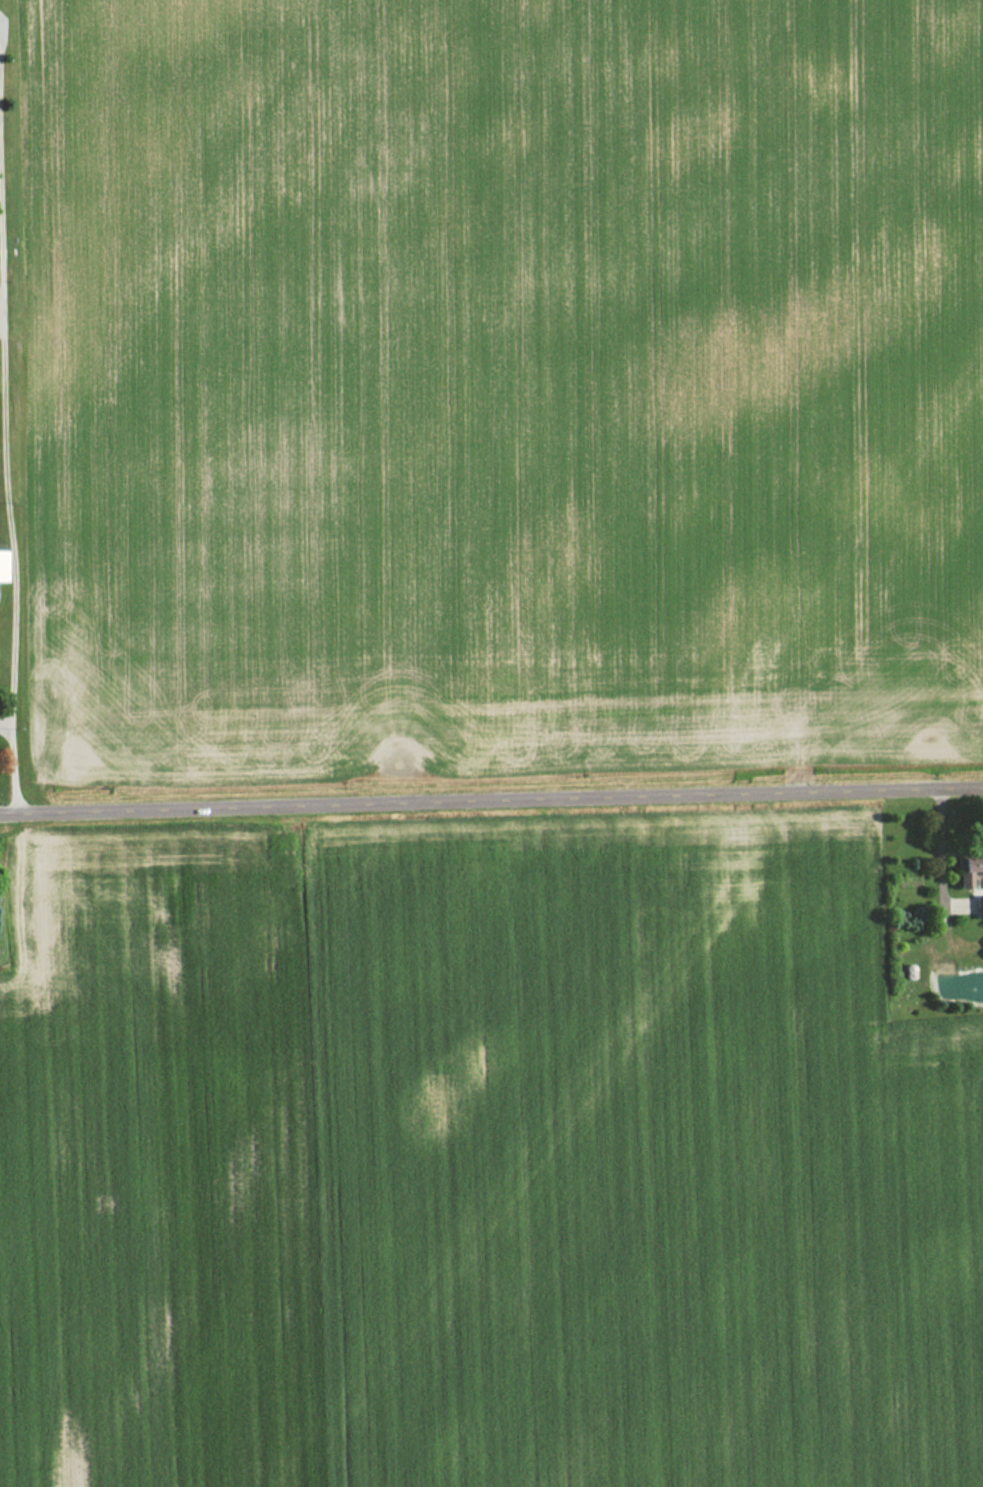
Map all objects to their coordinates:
crop: (499, 387)
building: (1, 566)
road: (10, 617)
road: (4, 724)
road: (491, 798)
crop: (479, 1164)

